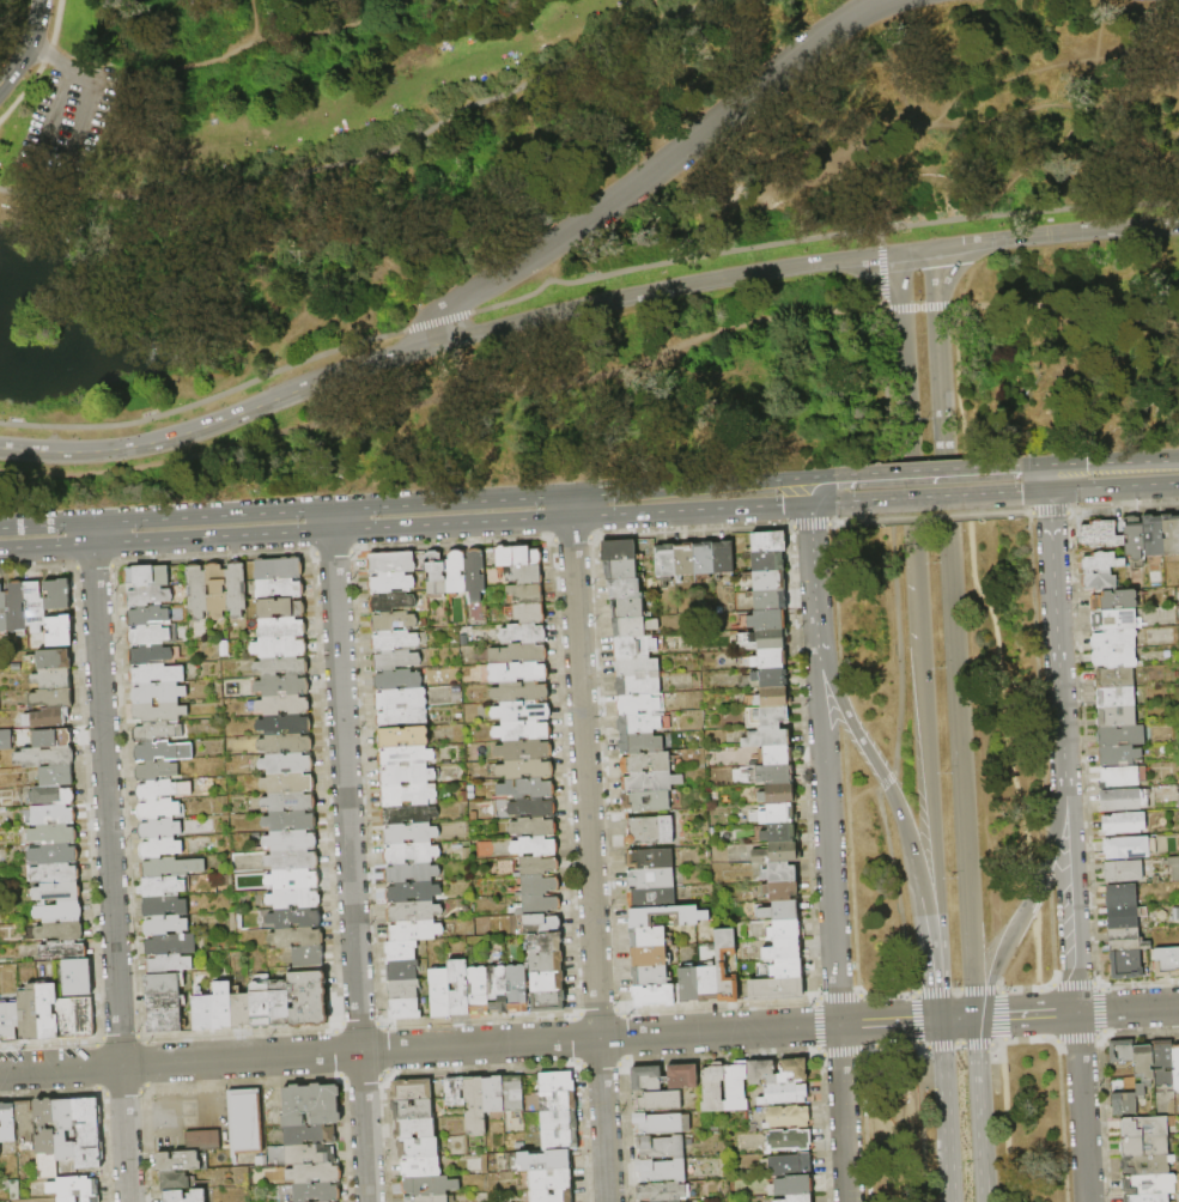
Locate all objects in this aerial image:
road: (249, 19)
road: (257, 37)
road: (26, 44)
road: (59, 59)
road: (42, 65)
parking lot: (62, 119)
road: (71, 119)
road: (923, 126)
road: (367, 152)
road: (650, 170)
road: (883, 178)
road: (1055, 233)
park: (576, 241)
road: (914, 251)
road: (881, 268)
road: (581, 281)
road: (660, 290)
road: (922, 306)
road: (1069, 309)
road: (420, 344)
road: (442, 393)
road: (212, 417)
road: (218, 425)
road: (1099, 465)
traffic signals: (1084, 466)
road: (935, 474)
road: (1038, 475)
traffic signals: (834, 479)
traffic signals: (850, 479)
road: (825, 486)
road: (1113, 488)
road: (1035, 493)
traffic signals: (1020, 494)
road: (936, 498)
road: (425, 502)
road: (570, 506)
traffic signals: (780, 508)
road: (1047, 512)
traffic signals: (1050, 516)
road: (1050, 518)
road: (330, 520)
road: (426, 527)
building: (1099, 532)
road: (91, 533)
building: (1171, 534)
building: (1151, 535)
building: (1132, 536)
road: (893, 540)
building: (767, 541)
building: (616, 551)
building: (516, 556)
building: (722, 557)
building: (703, 558)
building: (683, 559)
building: (664, 560)
building: (766, 560)
building: (1100, 560)
building: (389, 561)
building: (418, 561)
building: (278, 569)
road: (813, 569)
building: (619, 570)
building: (454, 571)
building: (434, 573)
building: (473, 573)
building: (524, 575)
building: (146, 576)
building: (767, 579)
building: (1099, 581)
building: (389, 582)
building: (622, 588)
building: (235, 589)
building: (278, 589)
building: (215, 590)
building: (418, 590)
building: (195, 591)
building: (524, 594)
road: (977, 594)
building: (56, 595)
building: (147, 596)
building: (1112, 599)
building: (768, 600)
building: (389, 602)
building: (16, 606)
building: (35, 607)
building: (626, 607)
building: (280, 608)
building: (2, 612)
building: (528, 613)
road: (918, 614)
building: (146, 615)
building: (1113, 618)
building: (765, 619)
building: (391, 621)
building: (632, 626)
building: (281, 627)
building: (59, 631)
road: (953, 632)
building: (522, 633)
building: (147, 636)
building: (1113, 637)
building: (761, 638)
building: (393, 641)
building: (633, 645)
building: (279, 646)
building: (517, 652)
building: (148, 654)
building: (1114, 656)
building: (768, 658)
building: (53, 660)
building: (394, 660)
road: (1057, 661)
building: (636, 666)
building: (280, 667)
building: (517, 673)
road: (1035, 673)
building: (156, 674)
building: (770, 676)
building: (1114, 678)
building: (51, 679)
building: (396, 680)
building: (637, 685)
building: (281, 686)
building: (518, 692)
building: (157, 693)
building: (772, 697)
building: (1116, 697)
building: (50, 698)
building: (400, 699)
building: (636, 704)
building: (282, 705)
building: (521, 711)
building: (158, 712)
building: (770, 715)
building: (1116, 716)
building: (400, 717)
building: (44, 718)
building: (637, 723)
building: (284, 724)
building: (69, 730)
building: (522, 730)
building: (156, 731)
building: (1120, 735)
building: (401, 736)
building: (765, 736)
building: (5, 740)
building: (639, 742)
building: (285, 743)
road: (1082, 747)
building: (523, 749)
building: (154, 751)
building: (776, 754)
building: (1117, 754)
building: (44, 757)
building: (405, 757)
building: (286, 763)
building: (644, 763)
building: (524, 769)
building: (154, 771)
building: (773, 773)
building: (55, 776)
building: (405, 776)
building: (1118, 776)
building: (649, 782)
road: (886, 782)
building: (286, 783)
building: (530, 788)
building: (157, 790)
building: (777, 794)
building: (51, 795)
building: (406, 795)
road: (895, 797)
building: (645, 800)
building: (1119, 800)
building: (288, 802)
building: (531, 807)
building: (157, 809)
building: (777, 813)
building: (407, 814)
building: (53, 815)
building: (290, 821)
building: (1123, 822)
building: (533, 826)
building: (158, 828)
road: (827, 828)
building: (649, 830)
building: (779, 833)
building: (54, 834)
building: (408, 834)
building: (290, 840)
building: (533, 846)
building: (1124, 848)
building: (159, 849)
park: (948, 850)
building: (409, 852)
building: (776, 852)
building: (56, 854)
building: (649, 858)
building: (291, 860)
road: (589, 861)
road: (1045, 863)
building: (536, 866)
building: (1174, 866)
building: (170, 867)
road: (350, 867)
building: (778, 870)
building: (1123, 870)
building: (55, 873)
building: (409, 873)
road: (110, 874)
building: (650, 878)
building: (292, 880)
building: (162, 886)
building: (536, 886)
building: (779, 890)
road: (895, 891)
building: (57, 892)
building: (411, 892)
road: (1070, 893)
building: (1119, 894)
road: (1032, 896)
building: (651, 897)
road: (1032, 898)
building: (293, 899)
building: (163, 905)
building: (537, 905)
building: (780, 910)
building: (412, 911)
building: (59, 912)
building: (1124, 915)
building: (692, 916)
building: (294, 918)
building: (537, 924)
building: (164, 925)
building: (785, 928)
road: (1051, 928)
building: (60, 930)
building: (413, 930)
building: (646, 936)
building: (296, 937)
building: (1125, 940)
building: (543, 942)
building: (170, 945)
road: (1035, 948)
building: (63, 949)
building: (783, 949)
building: (400, 951)
building: (306, 957)
building: (648, 957)
building: (1166, 960)
building: (545, 963)
building: (168, 964)
building: (1125, 964)
building: (724, 966)
building: (788, 967)
building: (401, 970)
building: (649, 976)
road: (1053, 976)
building: (77, 977)
building: (546, 982)
building: (160, 983)
building: (687, 983)
building: (706, 983)
road: (1071, 983)
traffic signals: (938, 984)
road: (1038, 984)
road: (1045, 984)
road: (1099, 984)
road: (997, 987)
building: (457, 988)
building: (516, 988)
building: (774, 988)
road: (1019, 988)
road: (1039, 988)
building: (402, 989)
building: (497, 989)
building: (742, 989)
road: (955, 989)
building: (476, 990)
road: (911, 991)
building: (438, 994)
road: (885, 994)
building: (655, 995)
building: (306, 996)
road: (834, 996)
road: (940, 997)
building: (547, 1001)
building: (163, 1002)
building: (260, 1006)
building: (279, 1006)
building: (220, 1007)
road: (1128, 1007)
building: (403, 1009)
road: (1101, 1009)
building: (47, 1010)
building: (239, 1010)
building: (29, 1013)
building: (201, 1013)
road: (1029, 1013)
road: (1040, 1013)
road: (1001, 1014)
traffic signals: (1007, 1015)
road: (979, 1016)
building: (75, 1018)
road: (913, 1018)
road: (958, 1018)
building: (10, 1020)
traffic signals: (910, 1020)
building: (164, 1021)
road: (889, 1021)
road: (813, 1022)
road: (976, 1030)
road: (979, 1030)
road: (1100, 1033)
building: (0, 1034)
road: (116, 1036)
road: (140, 1036)
road: (1041, 1037)
road: (1075, 1038)
road: (96, 1039)
road: (1003, 1039)
road: (1020, 1040)
road: (1049, 1040)
road: (917, 1043)
road: (993, 1043)
road: (958, 1044)
road: (922, 1045)
road: (1057, 1046)
road: (419, 1048)
road: (889, 1048)
traffic signals: (977, 1049)
road: (841, 1051)
road: (998, 1051)
building: (1120, 1051)
road: (818, 1052)
road: (721, 1054)
road: (621, 1061)
road: (144, 1062)
building: (1162, 1063)
road: (600, 1064)
road: (96, 1066)
road: (579, 1066)
building: (1175, 1066)
building: (792, 1067)
building: (1143, 1067)
road: (481, 1068)
road: (271, 1070)
road: (219, 1075)
road: (383, 1075)
road: (200, 1076)
building: (663, 1077)
road: (360, 1079)
road: (341, 1080)
road: (243, 1082)
building: (555, 1082)
building: (735, 1086)
road: (96, 1088)
road: (142, 1088)
building: (712, 1088)
building: (409, 1091)
road: (120, 1092)
building: (452, 1092)
road: (50, 1093)
road: (102, 1093)
building: (512, 1093)
building: (784, 1093)
building: (492, 1094)
road: (139, 1099)
road: (273, 1100)
building: (656, 1100)
building: (557, 1101)
building: (1124, 1103)
building: (310, 1105)
building: (474, 1105)
road: (1082, 1106)
road: (221, 1109)
road: (202, 1110)
building: (411, 1110)
road: (946, 1110)
road: (181, 1113)
road: (843, 1113)
building: (786, 1117)
building: (23, 1121)
building: (557, 1121)
building: (244, 1122)
building: (7, 1123)
building: (661, 1123)
road: (980, 1123)
road: (922, 1124)
road: (213, 1125)
road: (864, 1125)
building: (1143, 1127)
road: (822, 1128)
road: (1061, 1128)
building: (414, 1129)
road: (140, 1131)
road: (1003, 1131)
building: (63, 1133)
building: (86, 1134)
building: (309, 1135)
building: (44, 1139)
building: (558, 1140)
building: (786, 1140)
building: (202, 1141)
building: (658, 1146)
building: (1143, 1146)
road: (103, 1147)
building: (417, 1148)
building: (273, 1153)
building: (309, 1154)
building: (545, 1160)
building: (176, 1162)
building: (786, 1164)
building: (1131, 1165)
building: (419, 1167)
building: (661, 1170)
building: (314, 1173)
building: (549, 1179)
building: (172, 1182)
building: (794, 1184)
building: (1150, 1184)
building: (429, 1185)
building: (72, 1186)
building: (661, 1191)
building: (316, 1192)
building: (172, 1196)
building: (551, 1196)
building: (1145, 1197)
building: (65, 1198)
building: (89, 1198)
building: (425, 1198)
building: (796, 1198)
building: (675, 1201)

